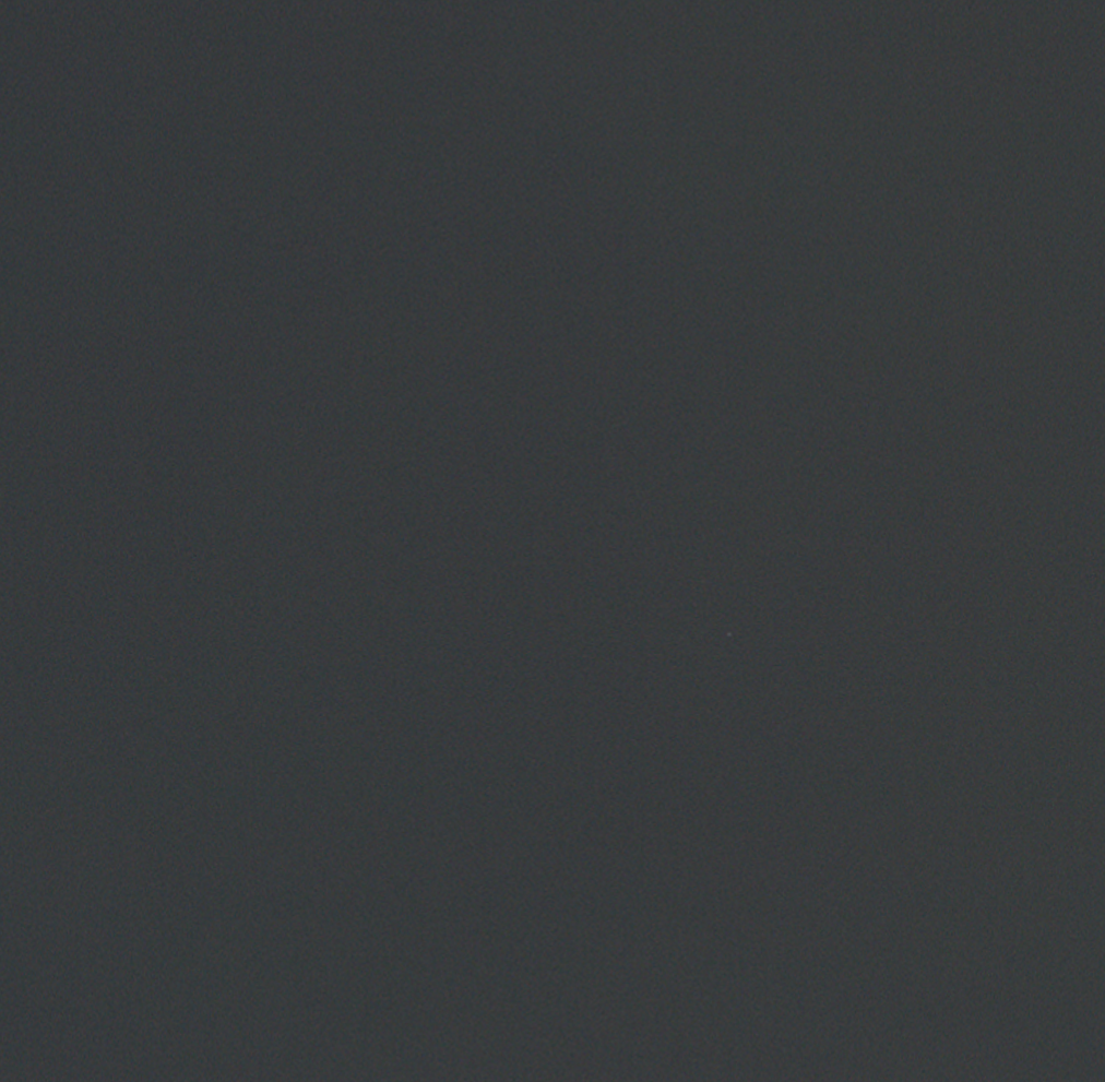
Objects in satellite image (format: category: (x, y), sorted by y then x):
river: (715, 96)
river: (333, 373)

